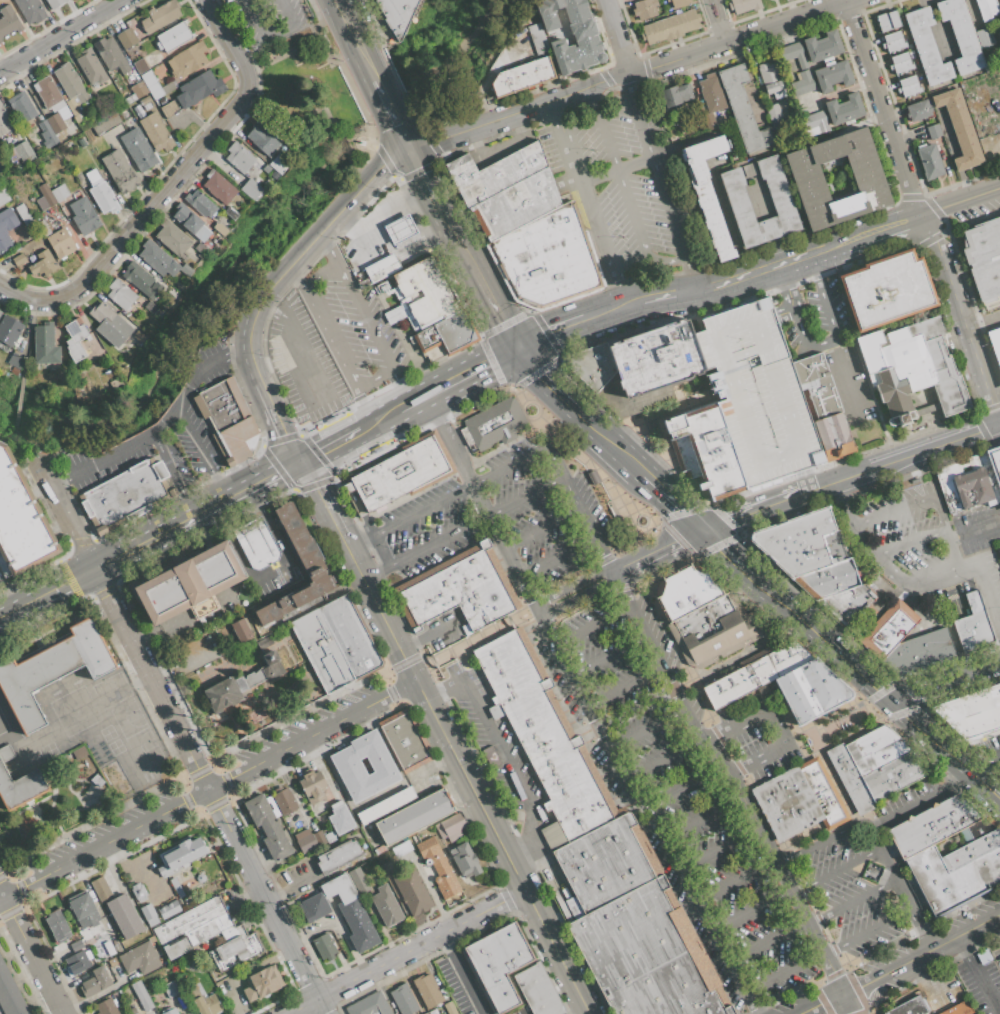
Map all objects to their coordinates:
building: (73, 0)
building: (76, 0)
building: (667, 0)
building: (55, 3)
building: (680, 3)
building: (744, 5)
building: (986, 8)
building: (644, 9)
building: (31, 10)
road: (285, 11)
building: (397, 14)
building: (160, 16)
parking lot: (265, 18)
road: (251, 19)
road: (717, 20)
building: (8, 21)
building: (887, 21)
road: (352, 27)
building: (670, 27)
road: (277, 30)
building: (960, 35)
road: (62, 36)
building: (173, 36)
road: (616, 36)
building: (536, 37)
building: (126, 38)
building: (585, 38)
building: (984, 38)
building: (893, 42)
building: (926, 46)
road: (297, 47)
building: (822, 47)
building: (793, 54)
building: (111, 55)
building: (188, 59)
building: (900, 63)
building: (140, 66)
building: (91, 67)
road: (370, 67)
road: (625, 72)
building: (832, 75)
building: (521, 77)
building: (769, 77)
building: (802, 82)
building: (156, 86)
building: (72, 87)
building: (908, 87)
building: (199, 88)
building: (138, 90)
building: (712, 92)
building: (48, 93)
park: (301, 93)
building: (676, 95)
road: (384, 97)
road: (591, 97)
building: (129, 99)
building: (144, 100)
building: (22, 106)
building: (148, 106)
building: (169, 109)
building: (844, 109)
building: (138, 110)
building: (742, 110)
building: (918, 110)
building: (773, 112)
building: (64, 113)
road: (554, 113)
building: (5, 121)
building: (82, 121)
building: (56, 123)
building: (813, 123)
building: (105, 125)
building: (959, 129)
building: (933, 131)
building: (156, 132)
road: (400, 132)
building: (47, 134)
building: (263, 140)
building: (81, 143)
building: (138, 150)
building: (24, 151)
building: (0, 152)
building: (243, 160)
building: (930, 161)
building: (280, 163)
building: (1, 165)
building: (267, 169)
building: (121, 171)
building: (494, 173)
road: (421, 174)
building: (92, 175)
building: (807, 178)
parking lot: (613, 181)
road: (665, 181)
road: (620, 182)
road: (169, 186)
building: (218, 188)
building: (253, 190)
building: (59, 192)
building: (708, 193)
building: (3, 195)
building: (103, 195)
building: (44, 197)
road: (585, 197)
building: (782, 200)
road: (959, 202)
building: (199, 204)
building: (515, 204)
parking lot: (976, 205)
road: (918, 213)
building: (24, 214)
building: (84, 215)
building: (191, 223)
building: (7, 227)
road: (325, 227)
building: (220, 229)
building: (400, 229)
building: (44, 231)
road: (873, 233)
building: (173, 237)
building: (61, 242)
road: (456, 242)
road: (331, 246)
building: (157, 258)
road: (668, 258)
building: (983, 258)
building: (34, 259)
building: (546, 259)
building: (381, 268)
road: (818, 269)
building: (187, 270)
road: (765, 272)
road: (320, 275)
road: (295, 276)
building: (141, 279)
road: (784, 287)
road: (617, 288)
building: (886, 289)
building: (427, 291)
building: (121, 294)
road: (673, 298)
building: (140, 301)
building: (150, 308)
building: (163, 308)
road: (267, 309)
road: (782, 309)
road: (621, 310)
road: (794, 311)
building: (0, 313)
building: (395, 314)
road: (366, 315)
road: (495, 316)
road: (592, 320)
building: (109, 324)
building: (9, 330)
building: (448, 332)
road: (549, 336)
road: (328, 337)
road: (833, 338)
building: (76, 340)
building: (995, 343)
building: (47, 345)
traffic signals: (515, 348)
road: (239, 351)
road: (251, 351)
building: (654, 359)
road: (304, 361)
building: (121, 366)
road: (478, 367)
building: (590, 369)
building: (912, 370)
road: (208, 371)
road: (374, 377)
road: (844, 379)
road: (404, 384)
building: (817, 384)
road: (550, 387)
road: (435, 391)
building: (755, 394)
road: (422, 398)
road: (365, 406)
road: (395, 412)
building: (228, 420)
road: (279, 425)
building: (494, 426)
road: (368, 428)
road: (144, 431)
building: (833, 436)
road: (450, 439)
road: (191, 441)
road: (934, 447)
road: (329, 448)
road: (616, 450)
building: (707, 450)
road: (522, 458)
building: (994, 464)
traffic signals: (299, 465)
road: (176, 471)
road: (76, 472)
building: (400, 472)
road: (835, 481)
road: (55, 482)
building: (973, 487)
road: (221, 488)
road: (525, 493)
building: (127, 495)
road: (239, 495)
road: (478, 499)
road: (319, 501)
road: (671, 502)
road: (893, 506)
road: (750, 510)
road: (940, 511)
road: (418, 512)
parking lot: (503, 516)
fountain: (641, 518)
road: (590, 521)
building: (16, 528)
traffic signals: (700, 528)
road: (975, 529)
road: (431, 541)
building: (796, 541)
road: (914, 541)
building: (256, 543)
road: (281, 544)
road: (355, 544)
building: (303, 545)
road: (657, 549)
road: (956, 549)
road: (725, 551)
building: (999, 553)
road: (510, 562)
road: (89, 572)
road: (369, 572)
building: (829, 578)
building: (190, 583)
road: (904, 583)
road: (573, 585)
building: (464, 590)
building: (685, 591)
road: (577, 596)
road: (988, 598)
building: (849, 603)
road: (113, 605)
road: (182, 617)
road: (591, 624)
building: (972, 624)
building: (890, 629)
building: (241, 630)
building: (711, 631)
road: (821, 638)
road: (473, 641)
building: (336, 643)
building: (919, 652)
road: (608, 656)
road: (178, 657)
building: (272, 665)
road: (723, 665)
building: (51, 672)
building: (754, 673)
building: (254, 678)
road: (945, 681)
road: (623, 686)
building: (810, 690)
building: (225, 692)
traffic signals: (892, 701)
building: (972, 712)
road: (758, 718)
road: (841, 725)
road: (647, 729)
road: (313, 735)
road: (930, 736)
building: (404, 740)
parking lot: (987, 747)
road: (503, 756)
road: (760, 758)
road: (666, 759)
building: (884, 762)
building: (348, 765)
road: (984, 765)
road: (970, 774)
building: (112, 775)
road: (466, 775)
building: (566, 778)
road: (734, 779)
building: (849, 779)
building: (17, 783)
building: (312, 786)
road: (685, 787)
road: (209, 789)
road: (986, 789)
parking lot: (680, 796)
road: (227, 798)
building: (798, 799)
building: (285, 802)
road: (920, 802)
building: (385, 805)
road: (645, 811)
road: (702, 816)
building: (415, 817)
building: (340, 818)
building: (268, 825)
building: (931, 825)
building: (451, 827)
building: (319, 837)
building: (330, 837)
building: (305, 841)
road: (821, 842)
road: (105, 843)
road: (717, 846)
building: (402, 848)
building: (179, 855)
building: (338, 856)
building: (464, 860)
building: (958, 865)
building: (438, 866)
road: (890, 867)
road: (836, 871)
building: (359, 880)
road: (734, 880)
building: (164, 886)
building: (176, 888)
parking lot: (856, 888)
building: (413, 891)
building: (139, 892)
road: (0, 897)
road: (850, 898)
building: (386, 906)
building: (314, 907)
road: (749, 907)
building: (168, 908)
building: (84, 909)
building: (117, 909)
building: (147, 910)
building: (351, 912)
road: (10, 914)
building: (153, 921)
road: (277, 921)
building: (57, 925)
road: (922, 928)
road: (994, 929)
road: (867, 931)
building: (207, 935)
road: (946, 942)
road: (766, 943)
building: (76, 946)
building: (324, 947)
building: (109, 948)
road: (406, 952)
building: (646, 954)
building: (140, 959)
building: (78, 962)
building: (498, 964)
road: (41, 974)
road: (782, 974)
road: (975, 975)
road: (868, 981)
building: (96, 982)
building: (262, 983)
parking lot: (459, 983)
parking lot: (979, 984)
building: (171, 988)
building: (538, 989)
building: (223, 990)
building: (428, 990)
building: (10, 994)
building: (142, 995)
building: (403, 999)
building: (203, 1001)
road: (824, 1004)
road: (848, 1004)
building: (184, 1005)
building: (368, 1005)
building: (106, 1007)
building: (907, 1007)
building: (448, 1008)
building: (958, 1009)
building: (169, 1011)
parking lot: (518, 1011)
building: (426, 1013)

